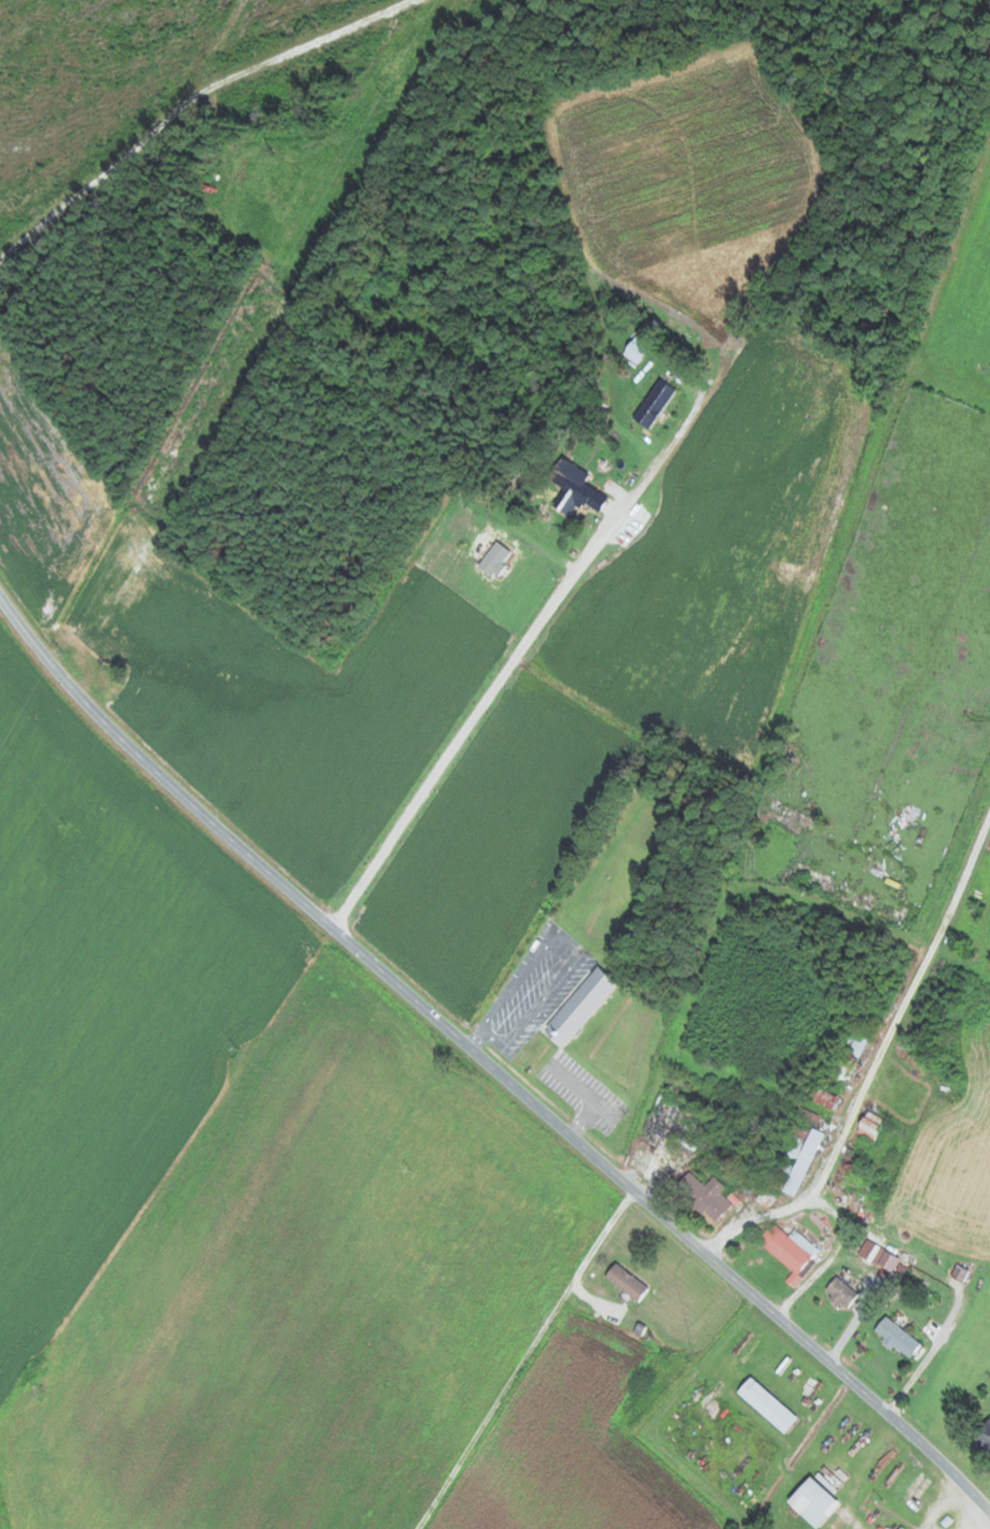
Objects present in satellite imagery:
road: (192, 91)
building: (634, 349)
building: (653, 403)
building: (574, 487)
road: (515, 655)
building: (624, 874)
building: (790, 906)
road: (526, 949)
building: (579, 1006)
road: (487, 1057)
road: (868, 1061)
building: (840, 1072)
building: (869, 1124)
building: (793, 1160)
building: (763, 1196)
building: (709, 1197)
building: (788, 1248)
building: (625, 1283)
building: (838, 1293)
building: (895, 1337)
road: (520, 1353)
road: (699, 1388)
building: (766, 1405)
building: (984, 1434)
road: (800, 1446)
building: (812, 1502)

